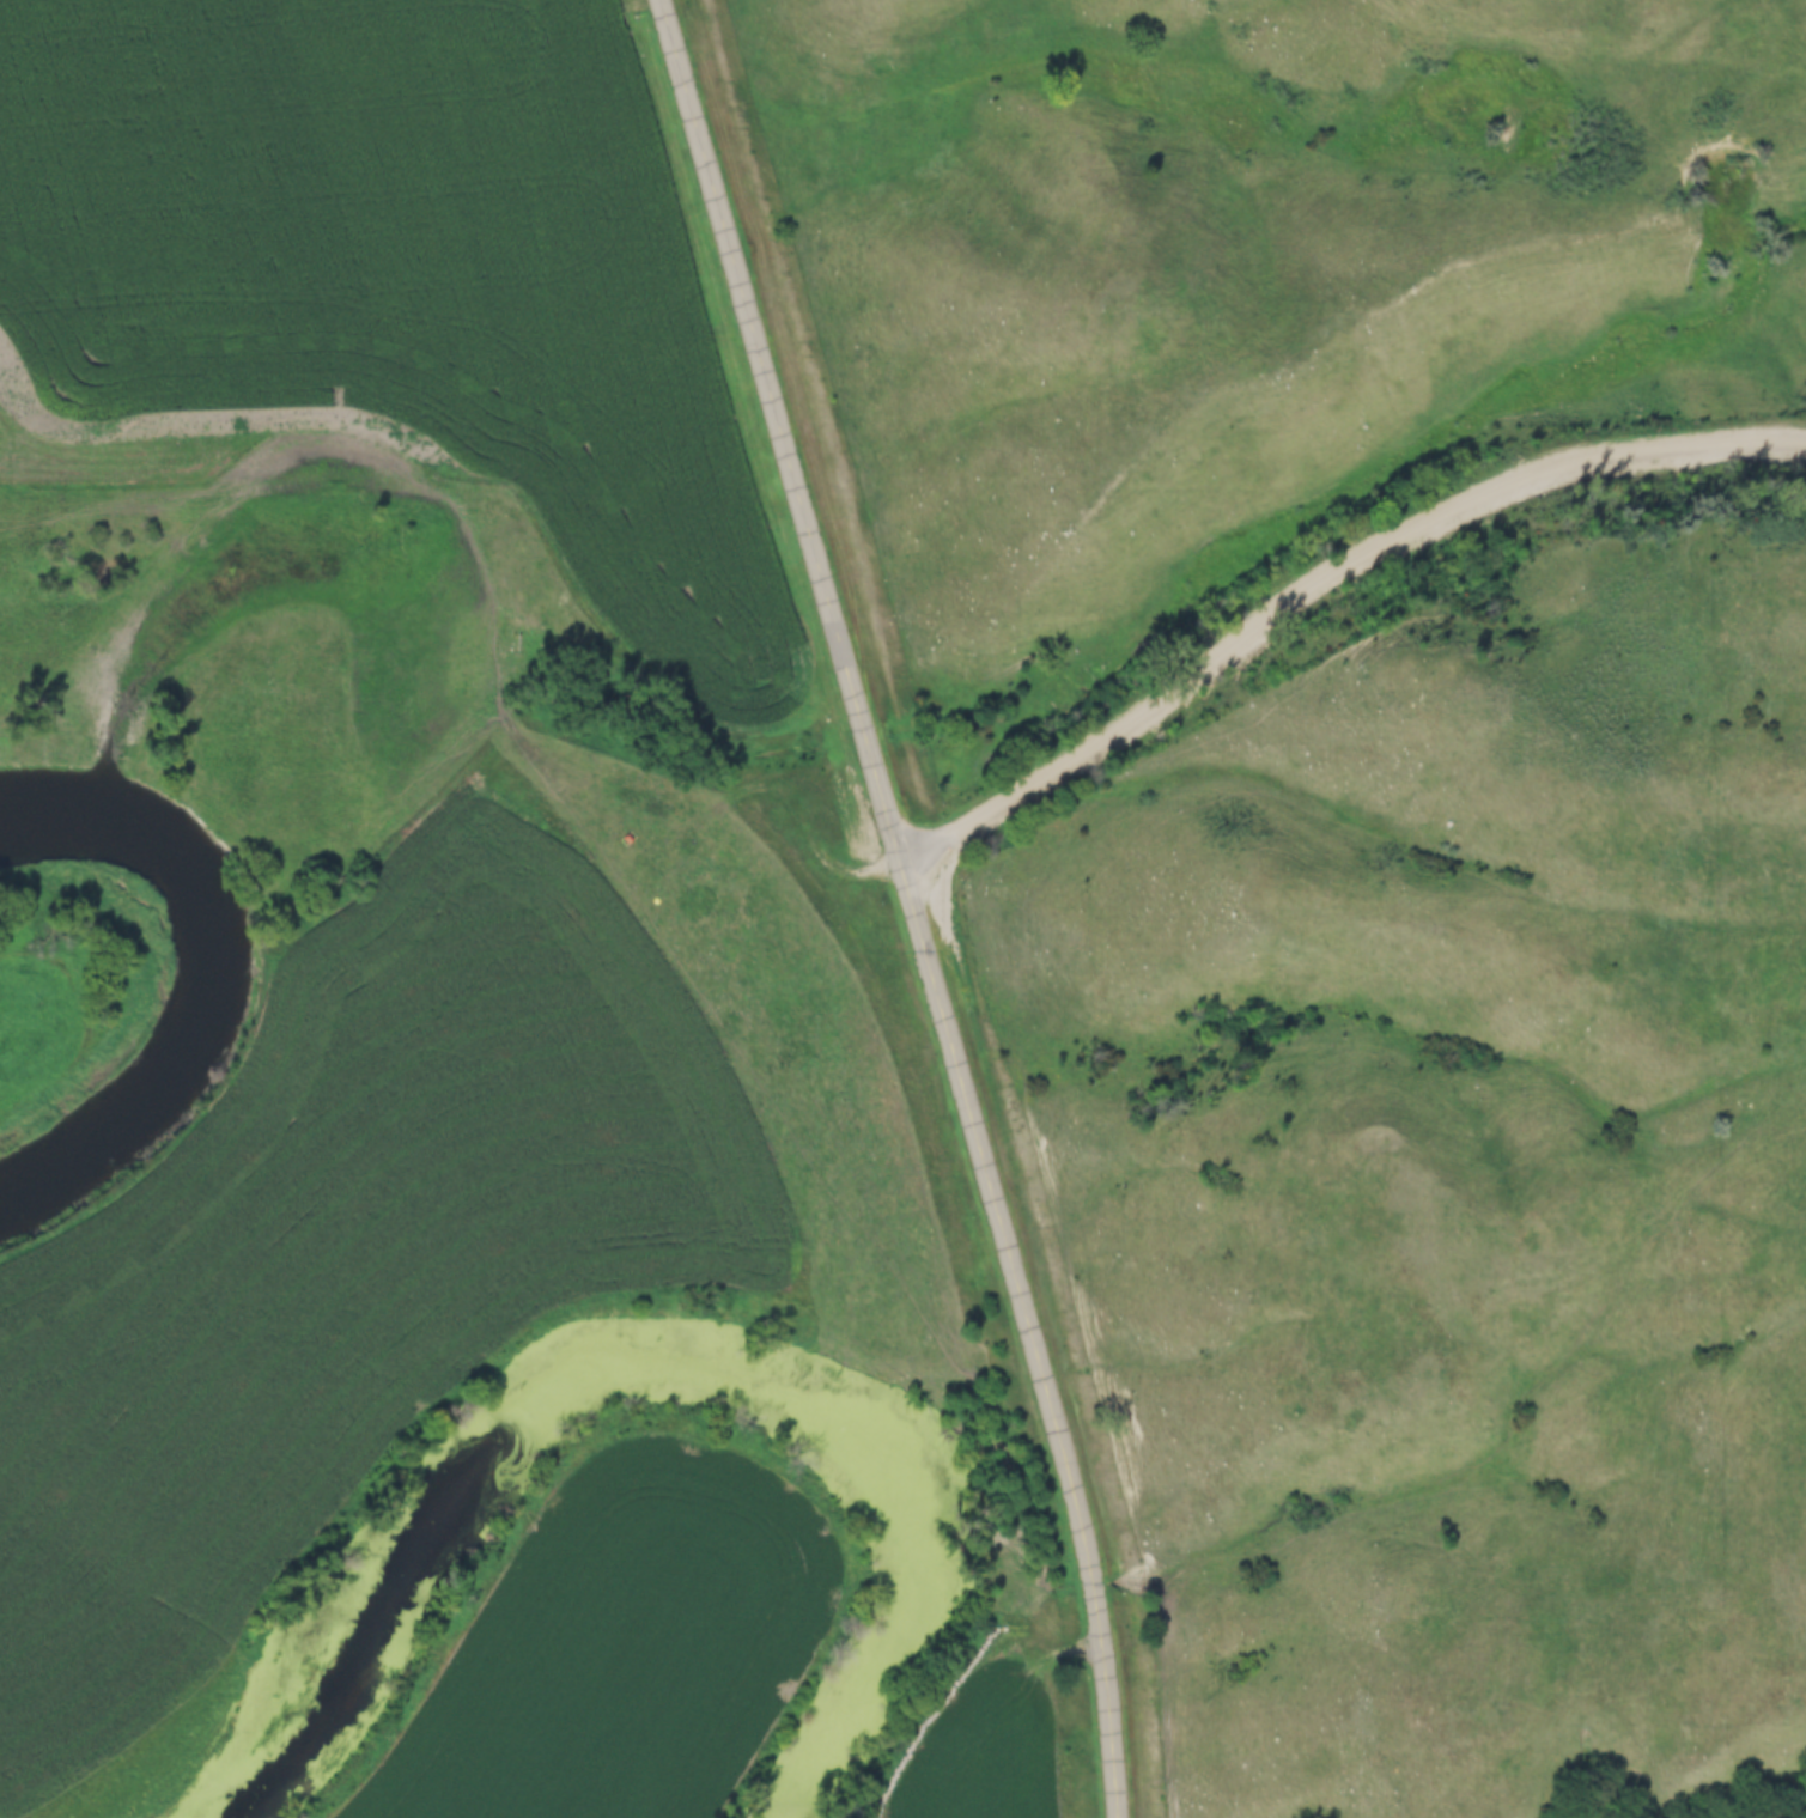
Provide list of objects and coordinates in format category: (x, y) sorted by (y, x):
road: (1322, 592)
road: (908, 904)
river: (197, 963)

